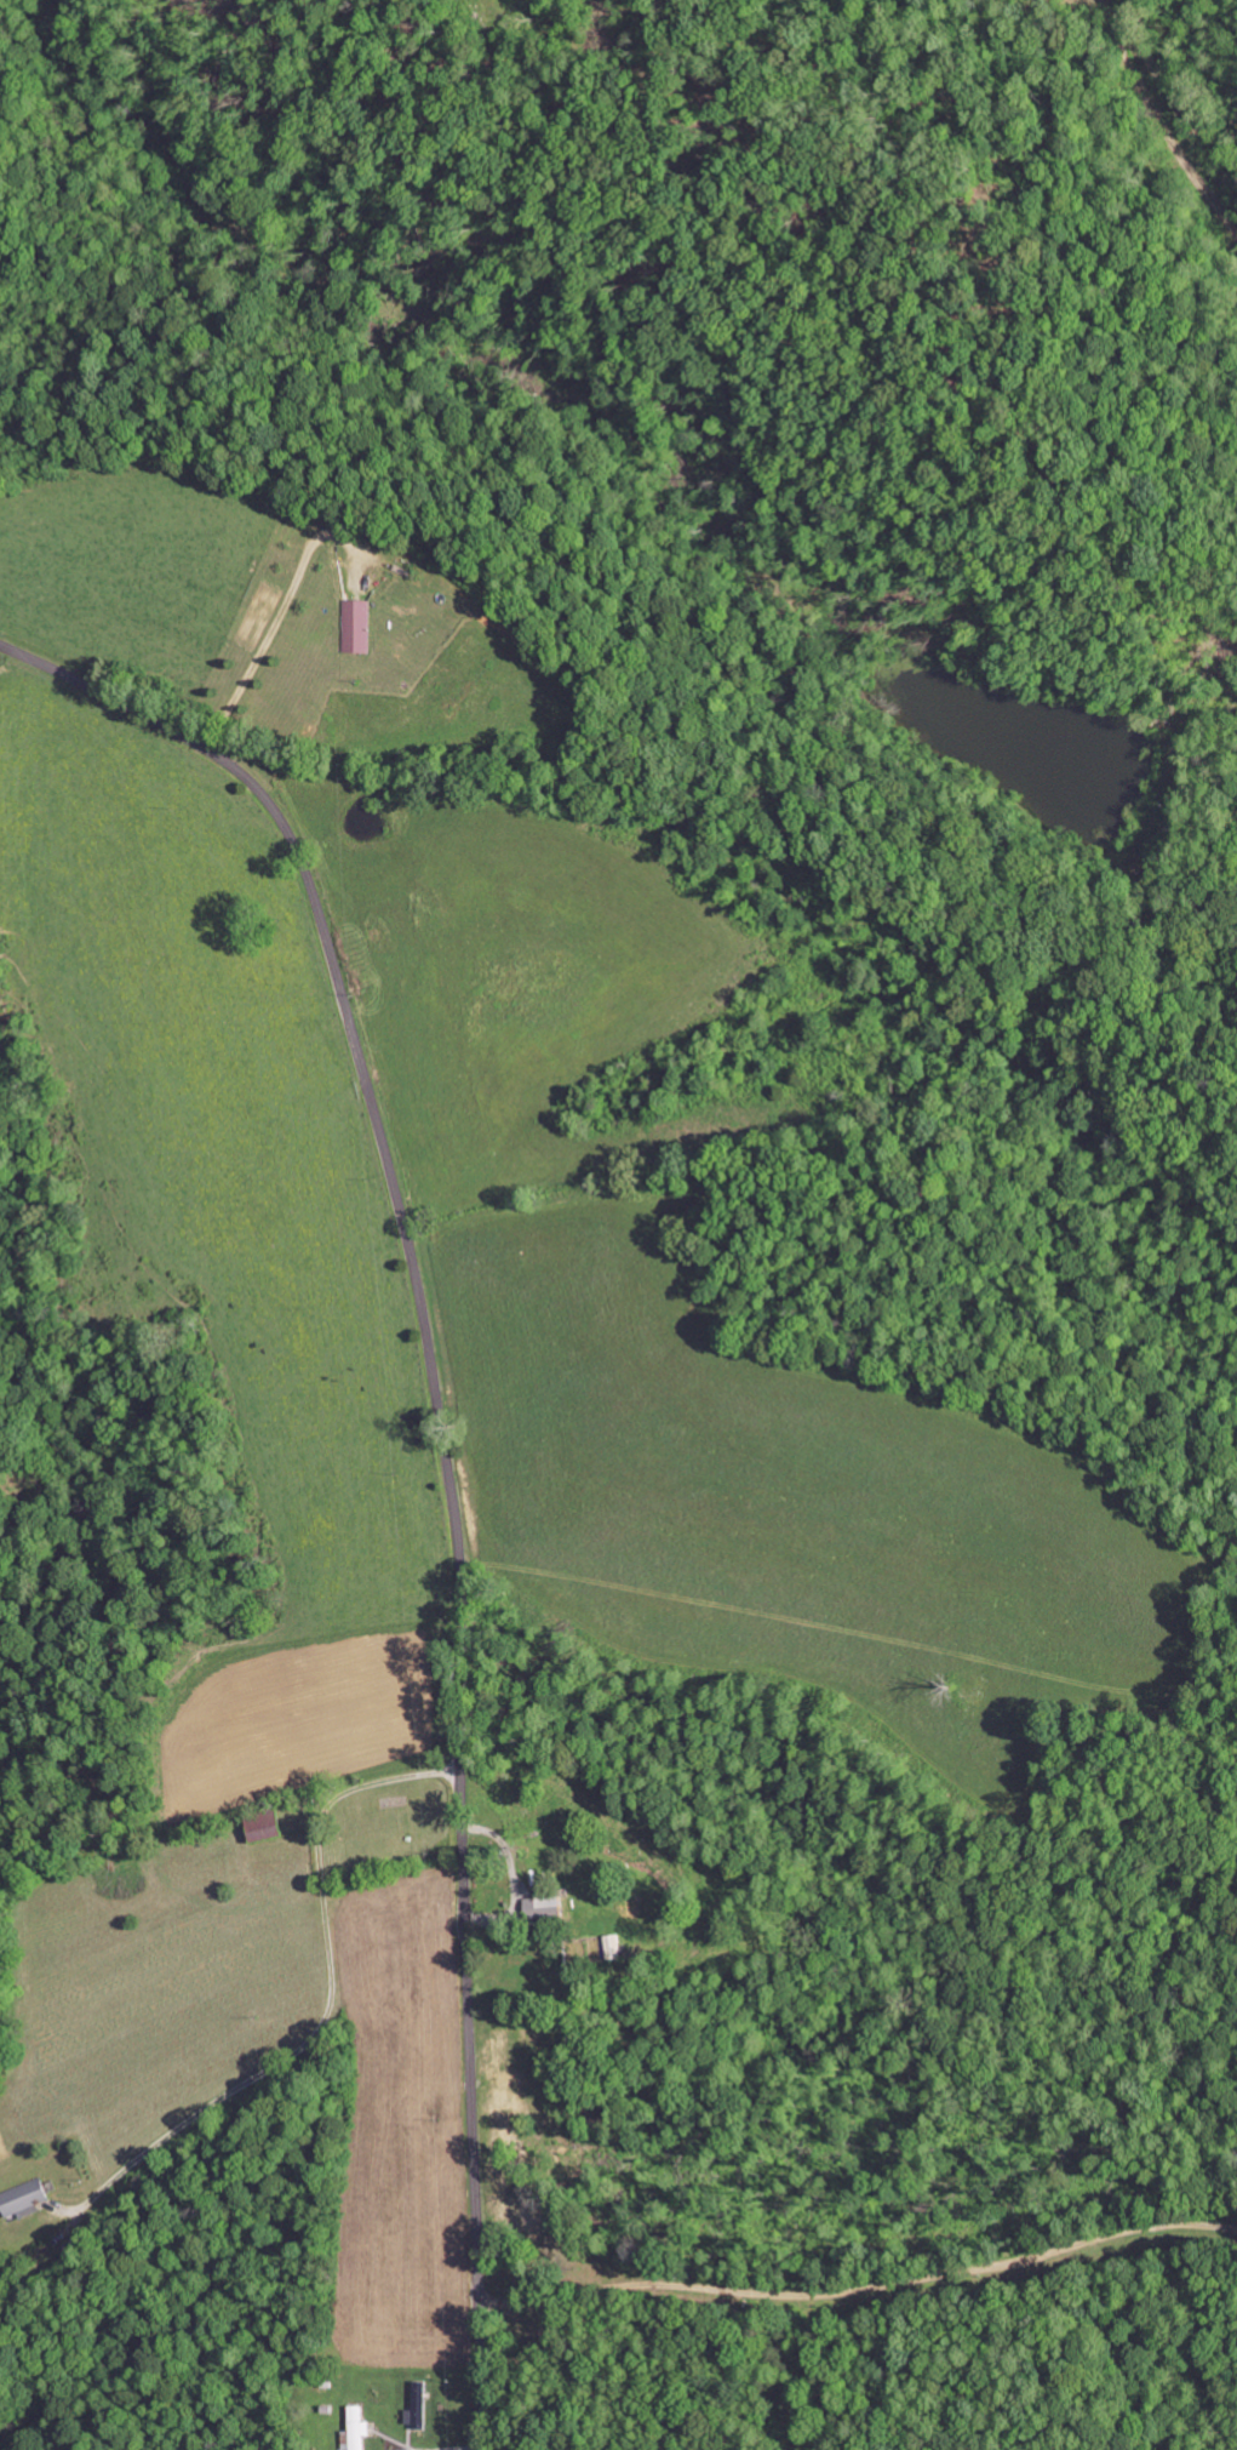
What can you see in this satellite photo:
building: (357, 626)
road: (445, 1457)
road: (848, 1695)
building: (263, 1826)
building: (544, 1904)
road: (330, 1931)
building: (612, 1946)
building: (24, 2197)
building: (414, 2406)
building: (355, 2427)

